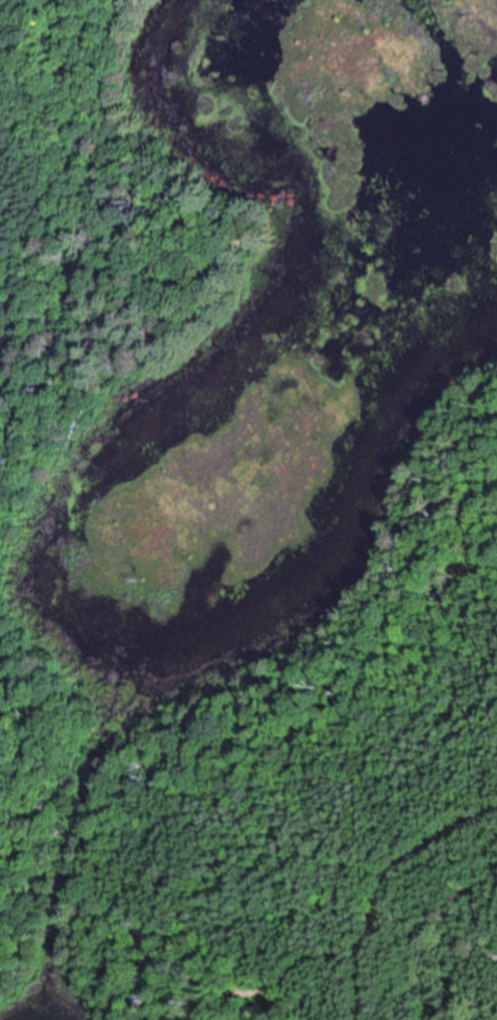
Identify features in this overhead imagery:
road: (387, 885)

